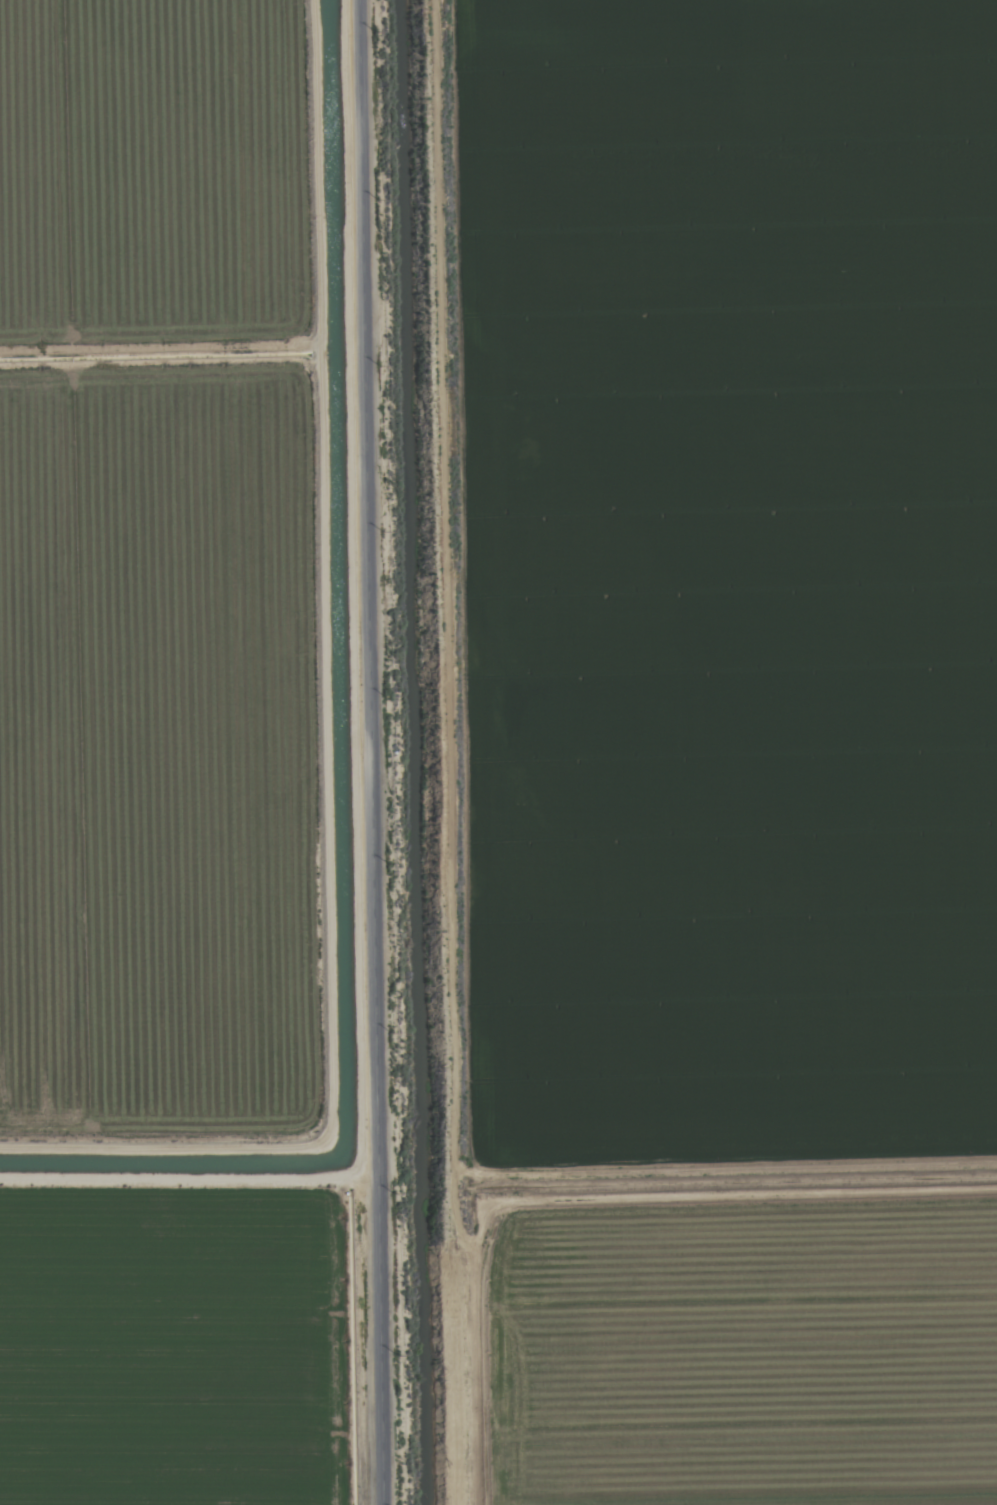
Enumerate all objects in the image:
road: (374, 752)

